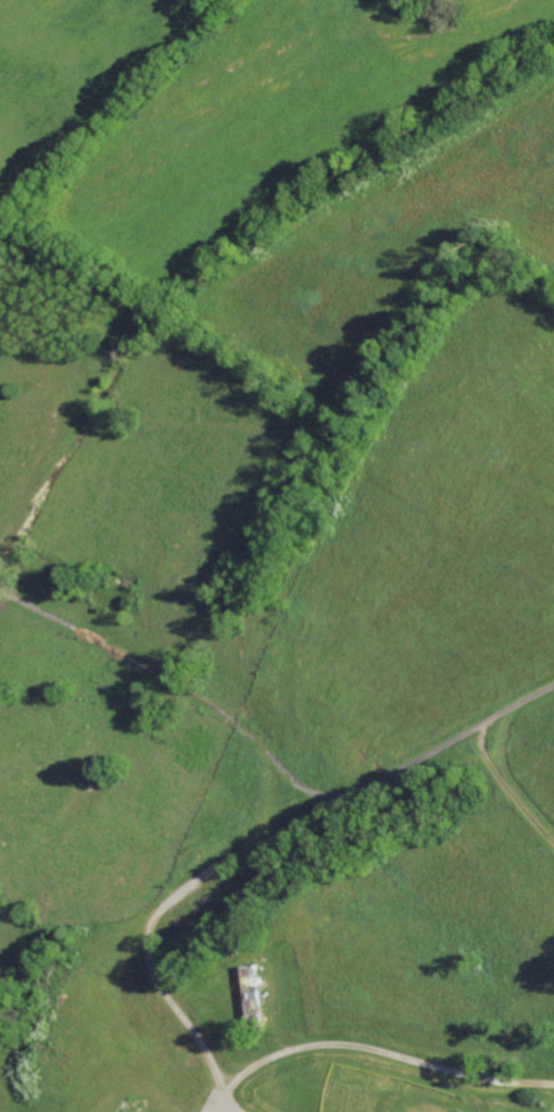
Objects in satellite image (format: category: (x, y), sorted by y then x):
building: (256, 996)
road: (372, 1047)

